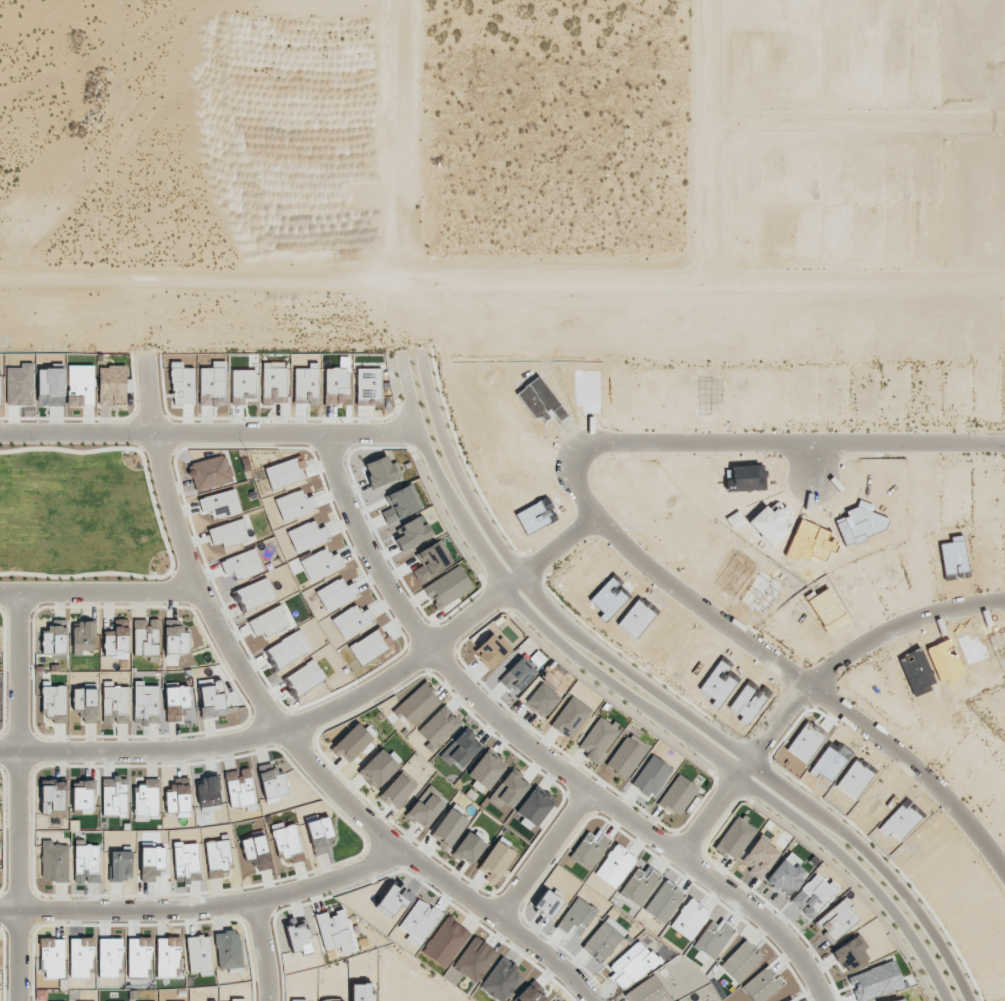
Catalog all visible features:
road: (259, 286)
building: (112, 385)
building: (209, 385)
building: (274, 385)
building: (306, 385)
building: (335, 385)
building: (368, 385)
building: (243, 386)
road: (209, 438)
building: (210, 472)
building: (220, 504)
building: (294, 505)
building: (228, 533)
road: (607, 539)
road: (556, 554)
building: (242, 564)
building: (320, 564)
building: (255, 594)
road: (98, 599)
building: (352, 620)
building: (268, 622)
building: (84, 636)
building: (55, 637)
building: (146, 637)
building: (175, 639)
building: (117, 640)
building: (492, 650)
building: (285, 651)
road: (855, 653)
road: (620, 672)
building: (517, 676)
building: (305, 677)
road: (603, 685)
building: (211, 698)
building: (542, 699)
building: (55, 703)
building: (86, 703)
building: (145, 704)
building: (417, 704)
building: (115, 705)
road: (259, 705)
building: (570, 717)
road: (281, 735)
building: (598, 739)
building: (352, 743)
road: (531, 753)
building: (625, 758)
building: (378, 769)
building: (485, 771)
building: (651, 776)
building: (273, 784)
building: (398, 790)
building: (677, 795)
building: (53, 798)
road: (18, 800)
building: (425, 807)
building: (533, 808)
road: (712, 813)
building: (448, 828)
building: (759, 856)
building: (495, 860)
road: (541, 860)
building: (54, 861)
building: (813, 896)
road: (203, 910)
building: (836, 920)
building: (334, 931)
road: (262, 952)
building: (199, 953)
building: (81, 956)
building: (139, 956)
building: (167, 956)
building: (110, 957)
building: (474, 959)
building: (741, 961)
building: (501, 980)
building: (762, 985)
building: (647, 990)
building: (237, 1000)
building: (792, 1000)

